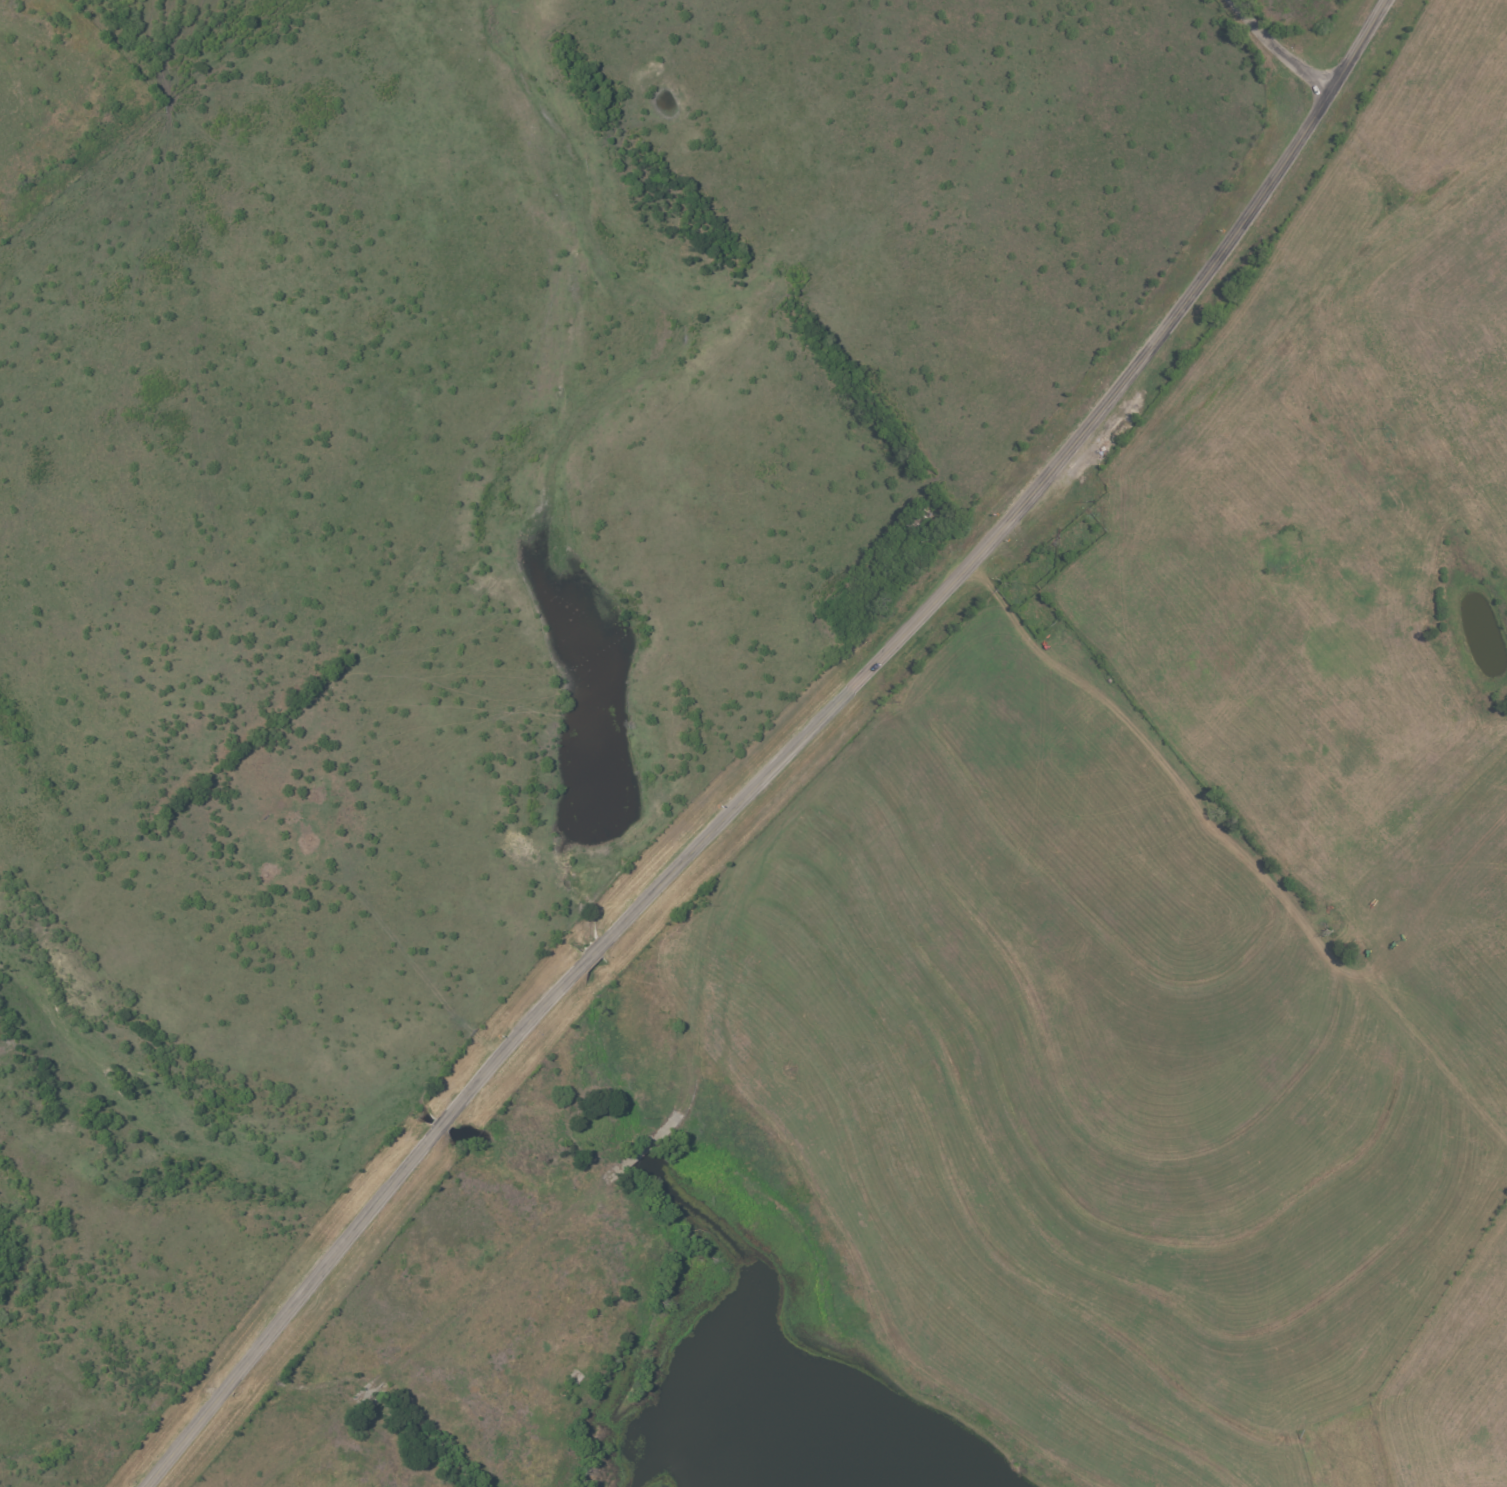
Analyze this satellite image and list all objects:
road: (1277, 51)
road: (785, 757)
road: (369, 1377)
dam: (1333, 1470)

